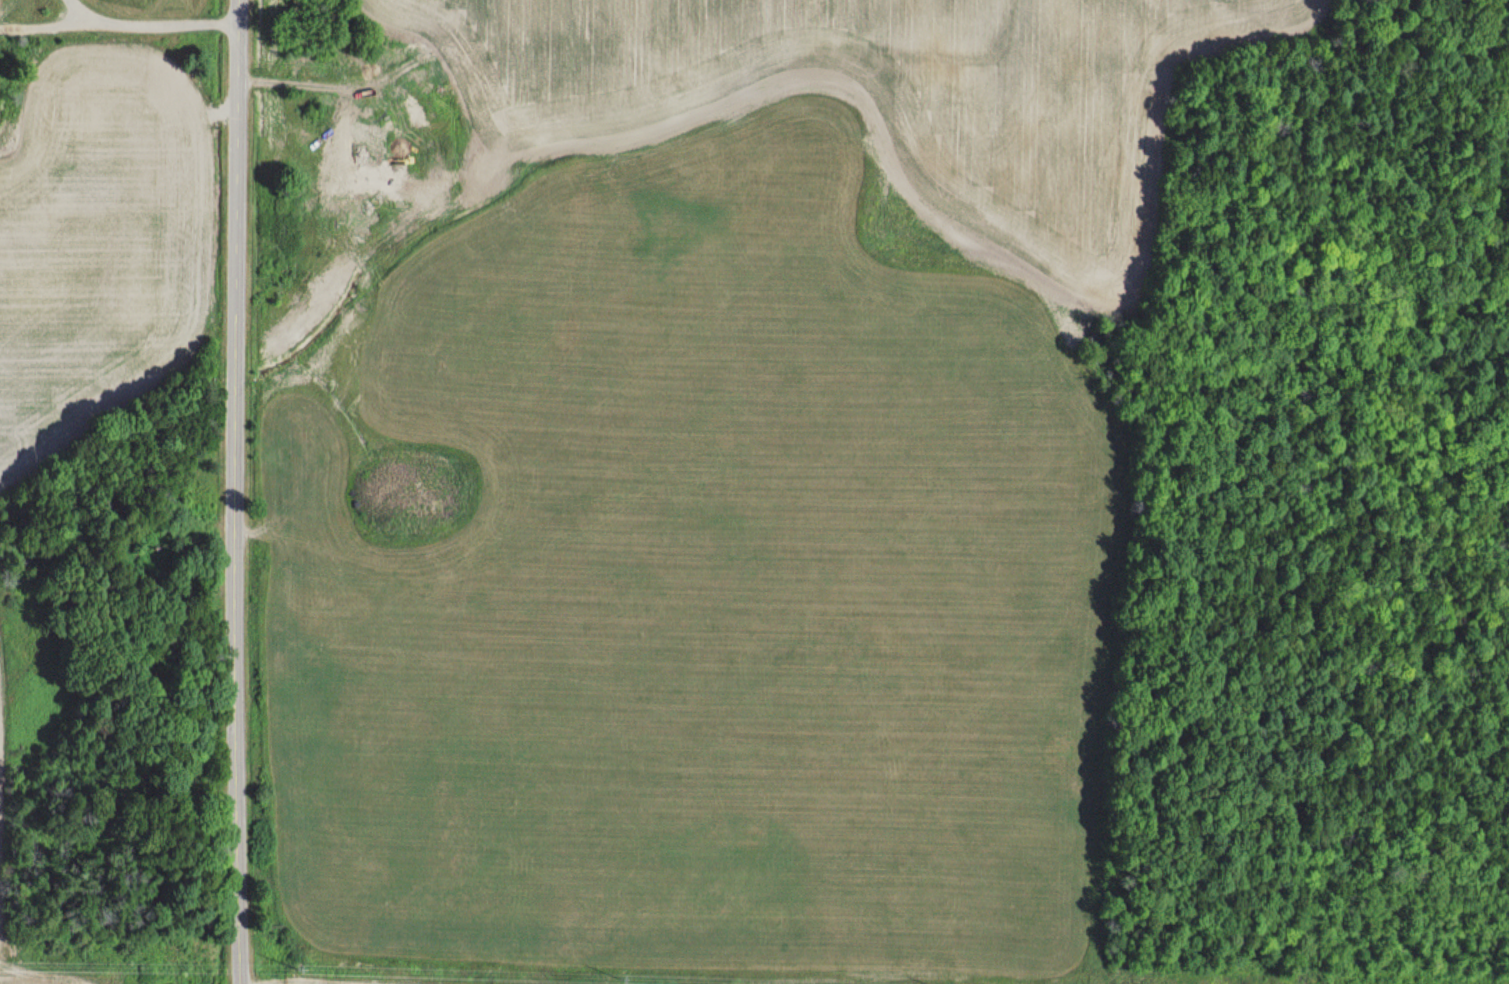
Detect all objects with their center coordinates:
road: (231, 492)

